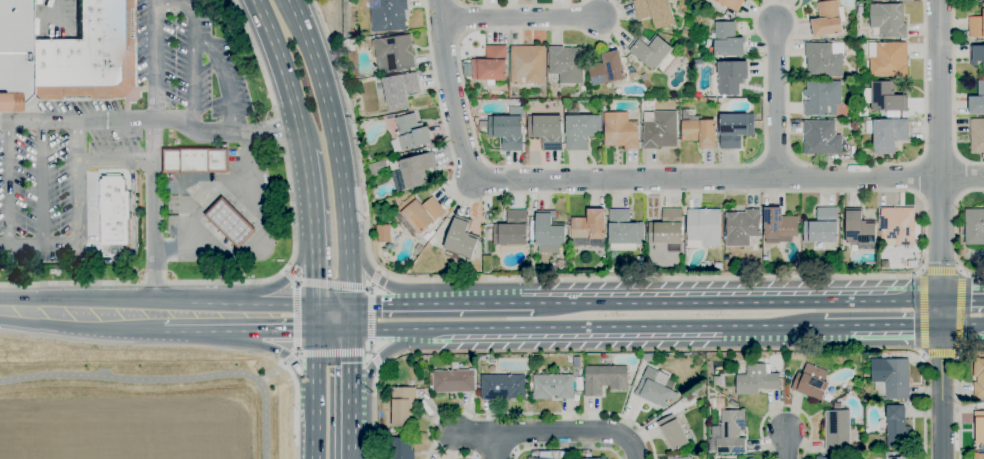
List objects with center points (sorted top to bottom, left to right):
building: (731, 4)
road: (187, 5)
road: (521, 6)
road: (57, 8)
building: (655, 12)
building: (389, 16)
road: (519, 18)
building: (827, 20)
building: (888, 20)
building: (976, 25)
building: (727, 40)
building: (651, 51)
building: (395, 52)
building: (14, 53)
building: (88, 55)
building: (976, 55)
building: (824, 59)
building: (888, 59)
building: (698, 62)
building: (491, 64)
building: (527, 64)
building: (566, 64)
building: (607, 69)
road: (284, 74)
building: (633, 76)
building: (731, 77)
road: (224, 80)
road: (192, 83)
building: (583, 89)
building: (400, 90)
road: (953, 92)
building: (824, 99)
building: (887, 100)
road: (775, 101)
building: (977, 101)
road: (150, 119)
building: (507, 129)
building: (734, 129)
building: (659, 130)
building: (546, 131)
building: (580, 131)
building: (621, 131)
building: (412, 132)
building: (700, 133)
building: (887, 133)
parking lot: (110, 134)
building: (977, 136)
building: (821, 138)
road: (764, 144)
road: (337, 148)
road: (939, 149)
road: (151, 150)
building: (195, 161)
road: (114, 162)
road: (307, 168)
building: (378, 168)
building: (414, 171)
road: (636, 179)
road: (9, 185)
road: (42, 185)
road: (205, 200)
building: (116, 212)
building: (420, 213)
road: (78, 221)
building: (230, 222)
gas station: (230, 222)
building: (779, 224)
building: (897, 226)
building: (742, 227)
building: (822, 227)
building: (974, 227)
building: (667, 228)
building: (703, 228)
building: (512, 229)
building: (589, 229)
building: (859, 229)
building: (624, 231)
building: (549, 232)
road: (955, 233)
building: (383, 234)
building: (427, 237)
building: (461, 238)
road: (313, 244)
building: (418, 248)
road: (257, 252)
road: (297, 263)
building: (639, 263)
building: (612, 269)
road: (281, 271)
road: (284, 271)
road: (379, 271)
building: (533, 271)
road: (940, 271)
road: (879, 277)
road: (378, 279)
road: (325, 284)
road: (77, 298)
traffic signals: (943, 299)
road: (963, 299)
road: (725, 300)
road: (428, 303)
road: (234, 304)
traffic signals: (316, 304)
road: (333, 304)
traffic signals: (350, 304)
road: (371, 311)
road: (916, 311)
road: (964, 311)
road: (316, 317)
road: (350, 317)
road: (296, 325)
road: (963, 325)
road: (830, 326)
road: (895, 326)
traffic signals: (944, 326)
road: (582, 328)
road: (81, 329)
road: (333, 330)
traffic signals: (351, 330)
road: (240, 331)
traffic signals: (316, 331)
road: (941, 352)
road: (343, 353)
road: (285, 355)
building: (865, 356)
building: (647, 357)
road: (381, 358)
building: (576, 362)
road: (351, 364)
road: (316, 367)
road: (381, 369)
road: (272, 373)
building: (891, 378)
road: (944, 378)
road: (131, 379)
building: (604, 379)
building: (978, 379)
building: (756, 380)
building: (452, 381)
building: (811, 382)
building: (502, 387)
building: (553, 387)
building: (656, 391)
road: (957, 394)
building: (843, 398)
road: (923, 401)
road: (296, 402)
park: (142, 403)
building: (403, 406)
road: (784, 406)
road: (374, 413)
road: (516, 414)
road: (351, 415)
road: (265, 420)
building: (979, 427)
building: (897, 428)
building: (837, 429)
road: (315, 430)
building: (398, 430)
road: (552, 432)
building: (672, 432)
building: (731, 432)
road: (351, 445)
road: (496, 445)
road: (786, 446)
building: (401, 448)
road: (567, 449)
building: (588, 454)
building: (563, 455)
building: (894, 455)
building: (978, 456)
building: (530, 458)
building: (679, 458)
building: (752, 458)
building: (826, 458)

